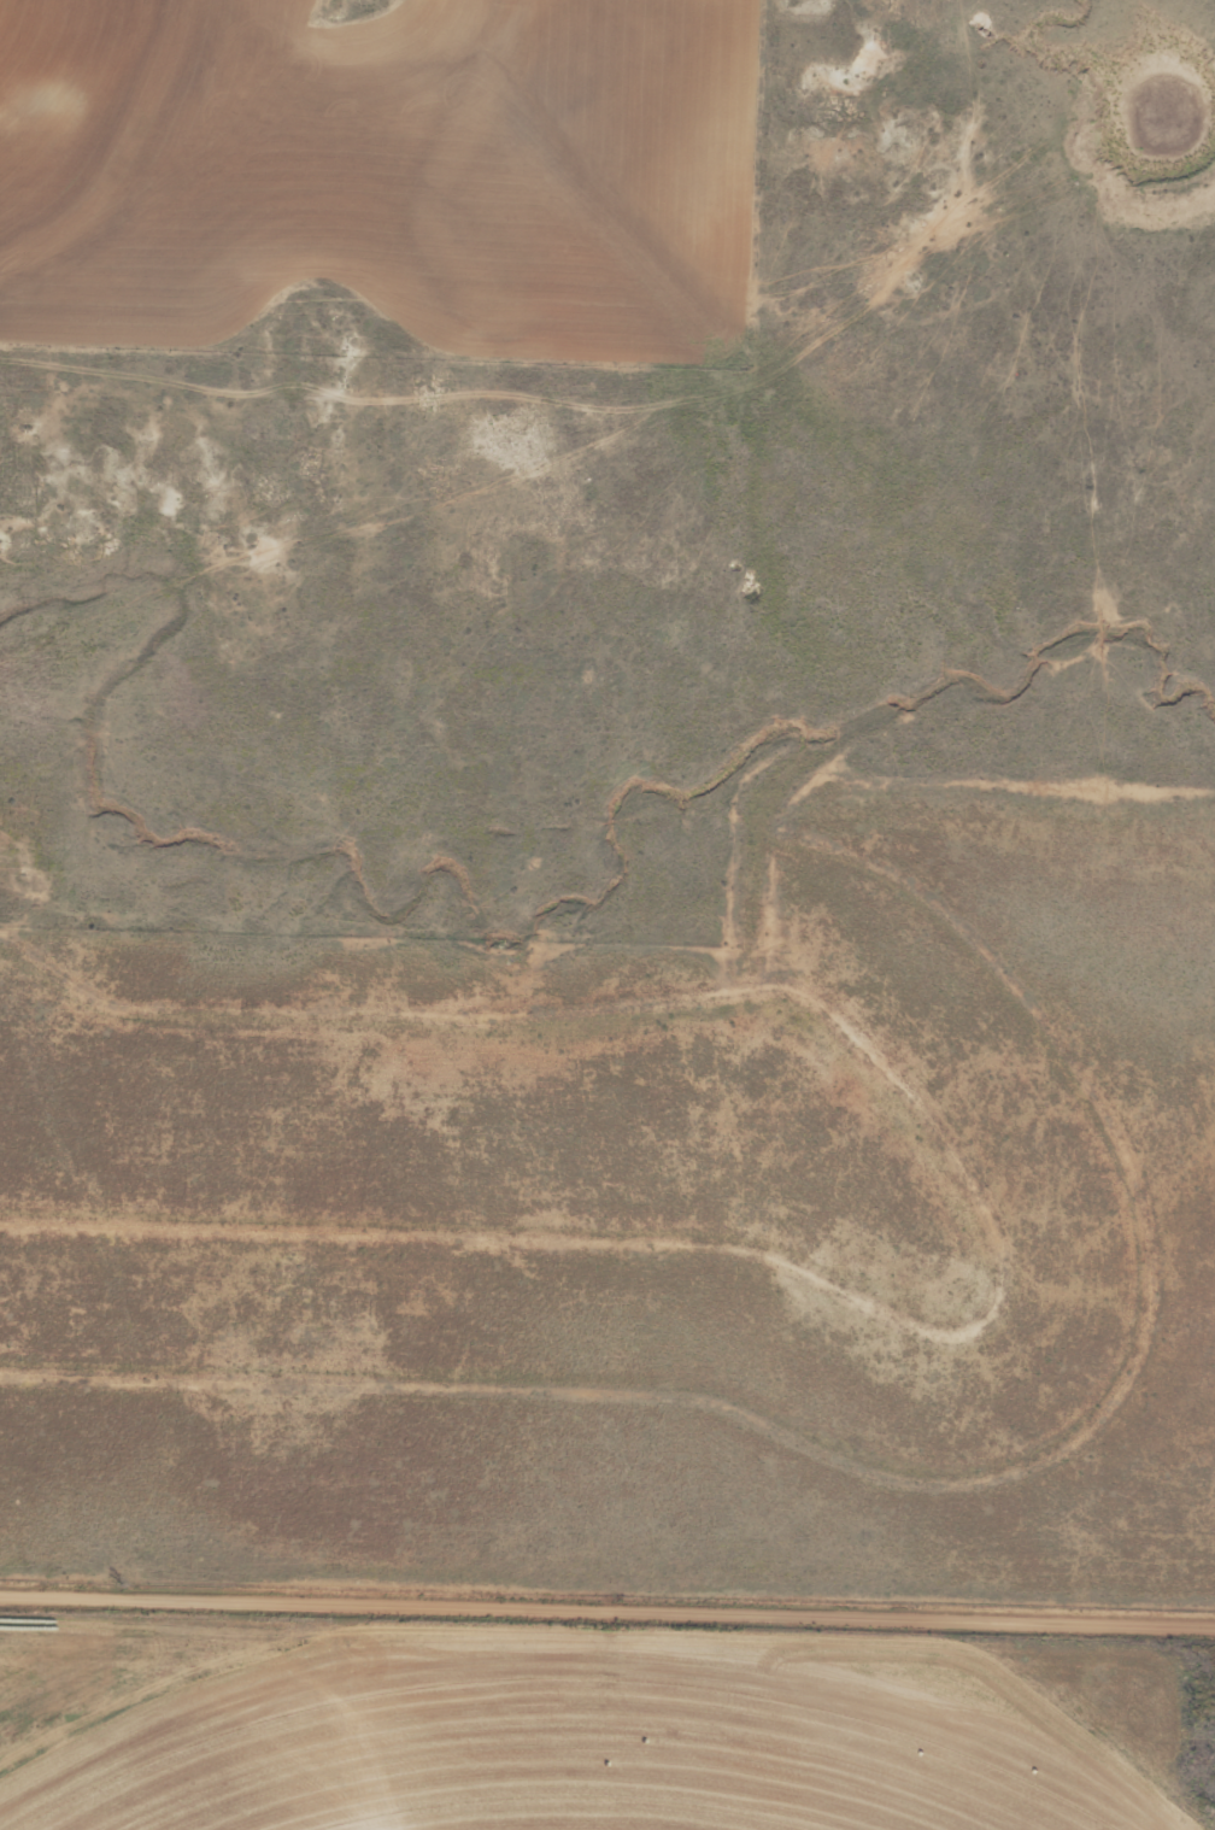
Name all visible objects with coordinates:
road: (607, 1606)

